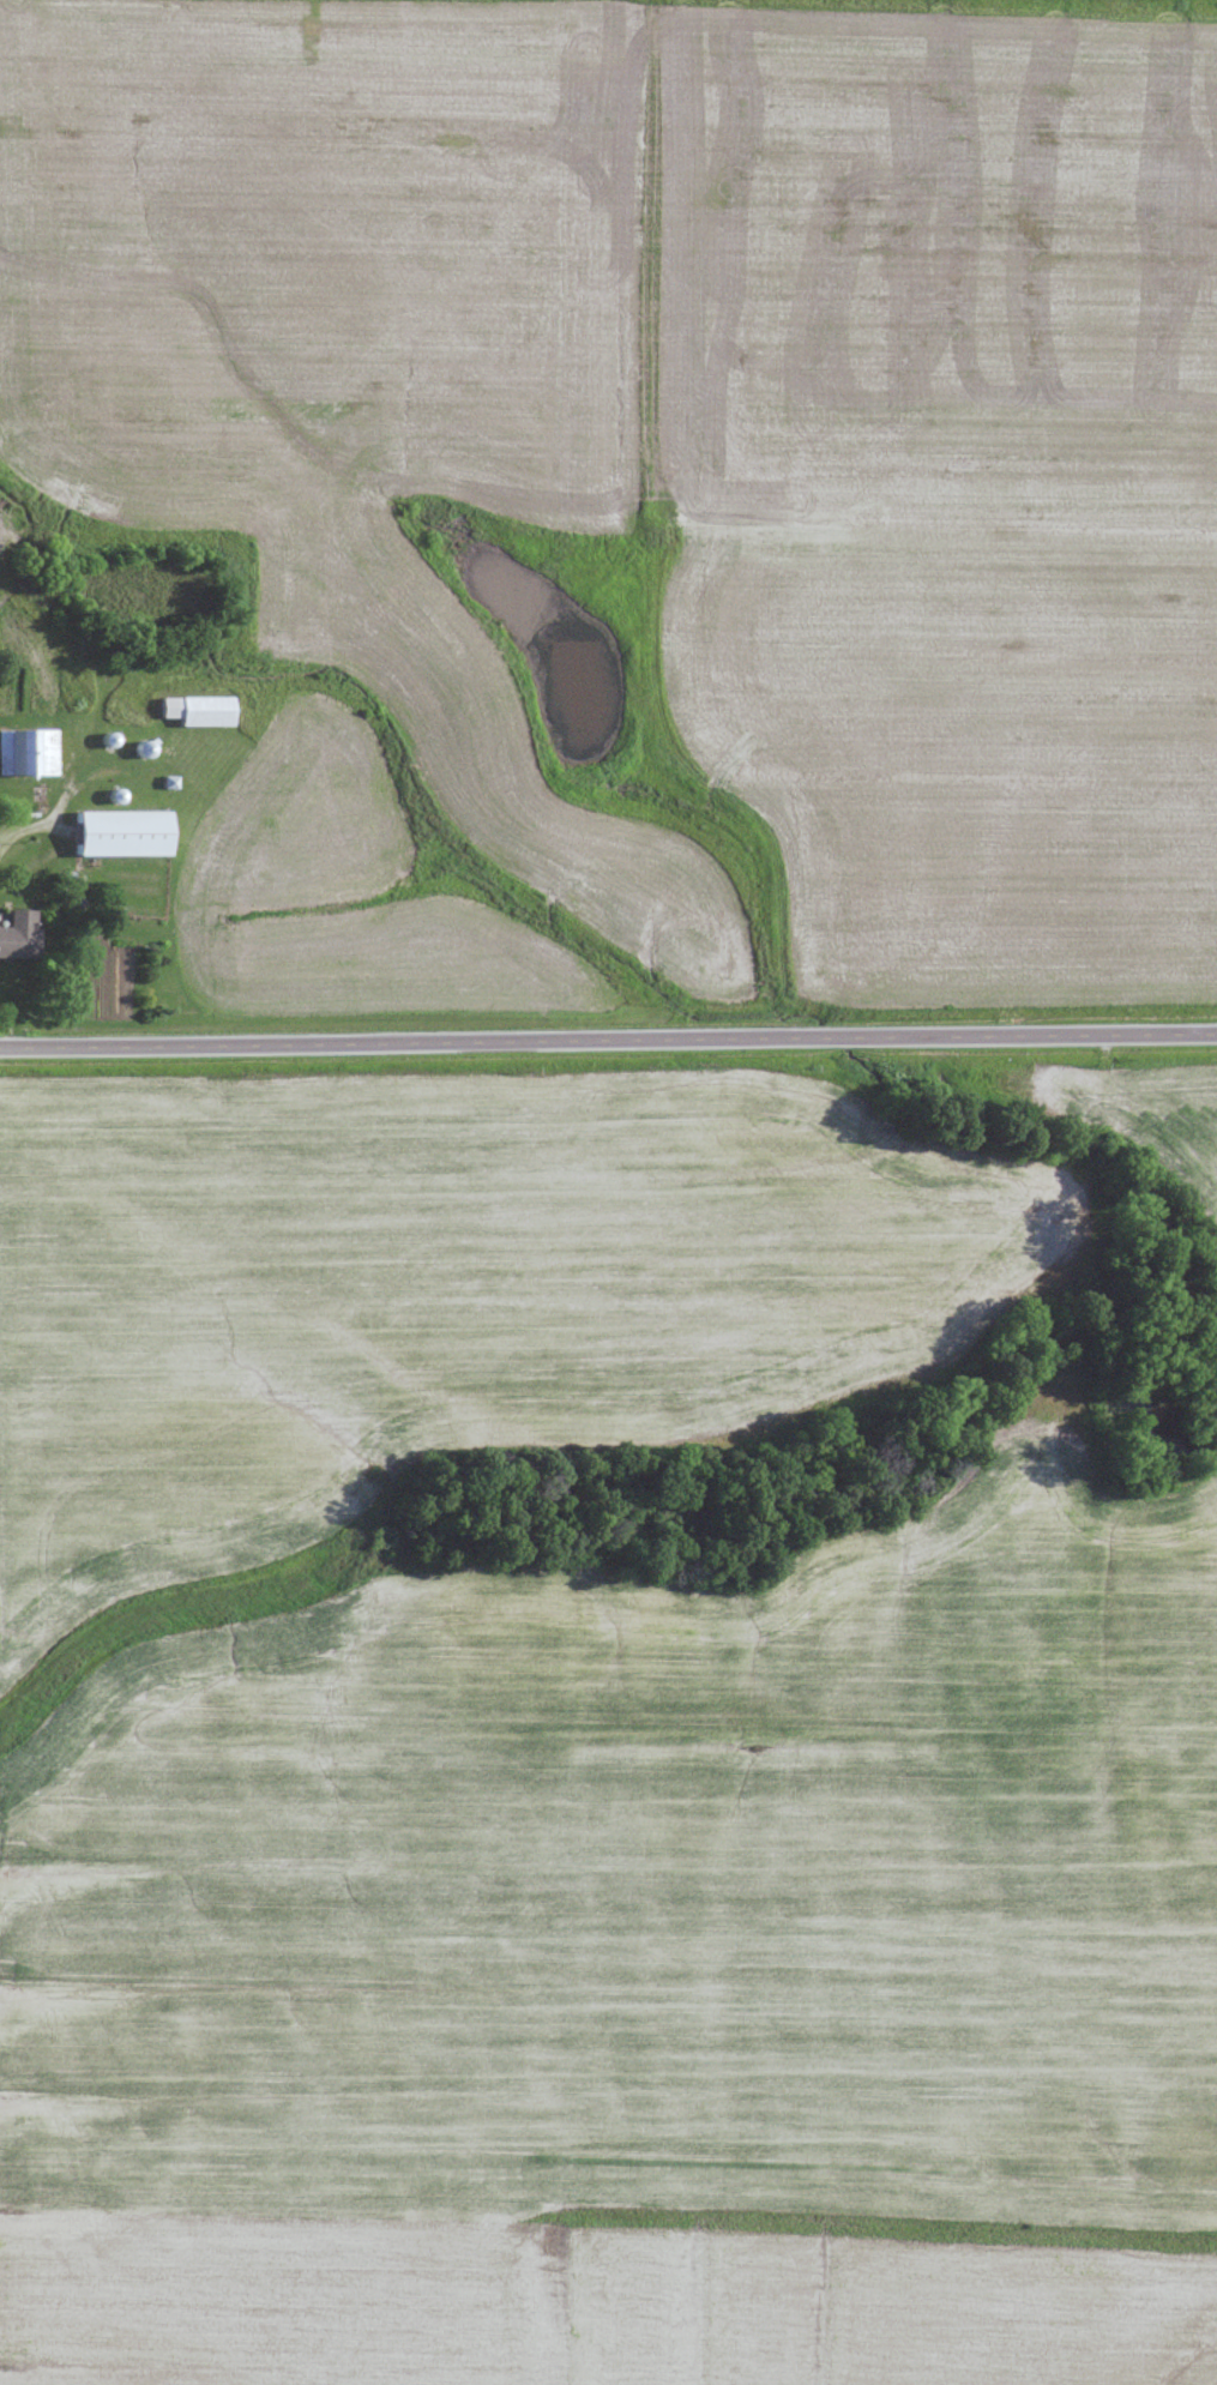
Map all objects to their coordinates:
building: (197, 710)
building: (26, 752)
building: (120, 833)
building: (19, 935)
road: (608, 1038)

